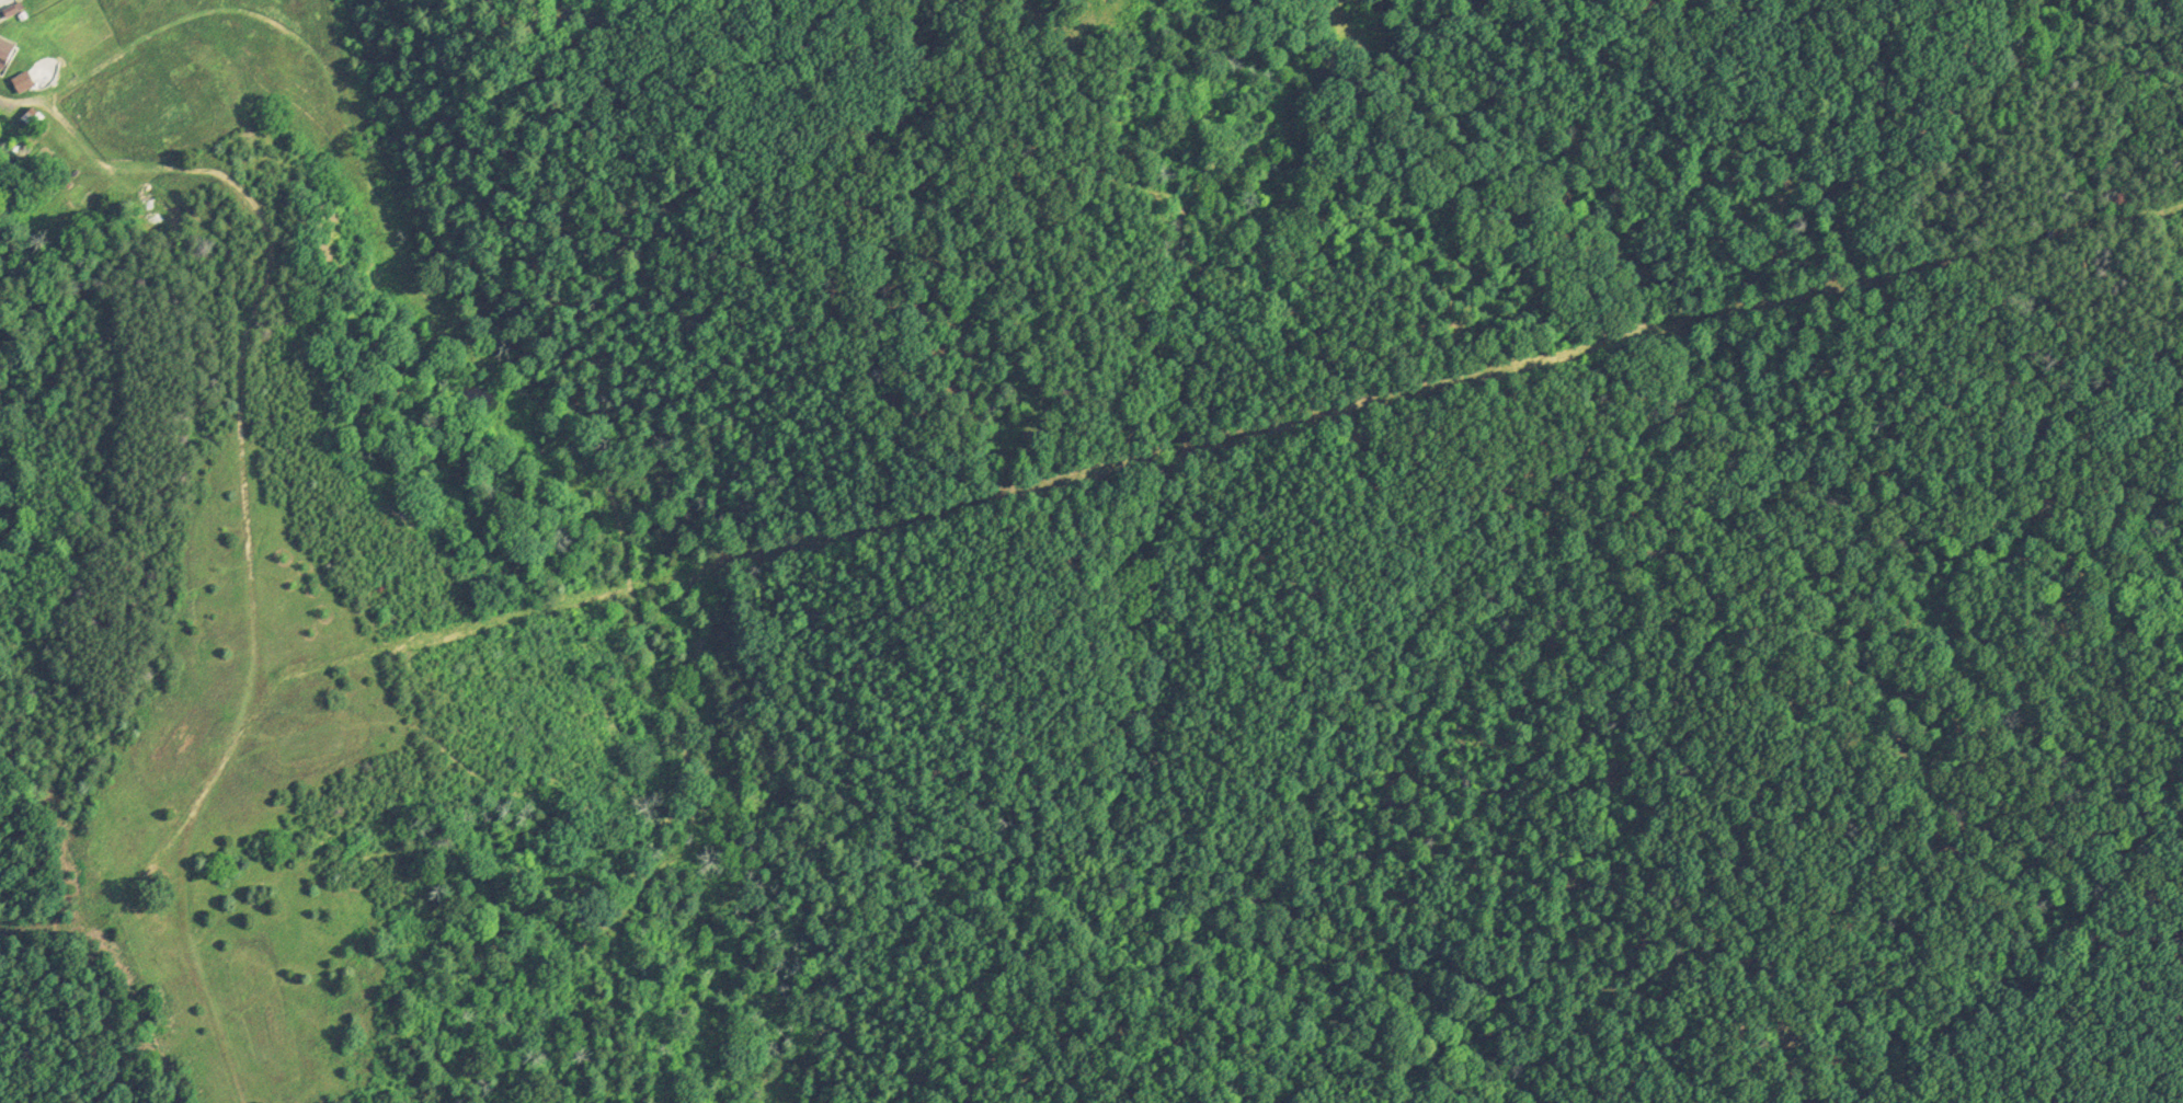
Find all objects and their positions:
building: (3, 53)

